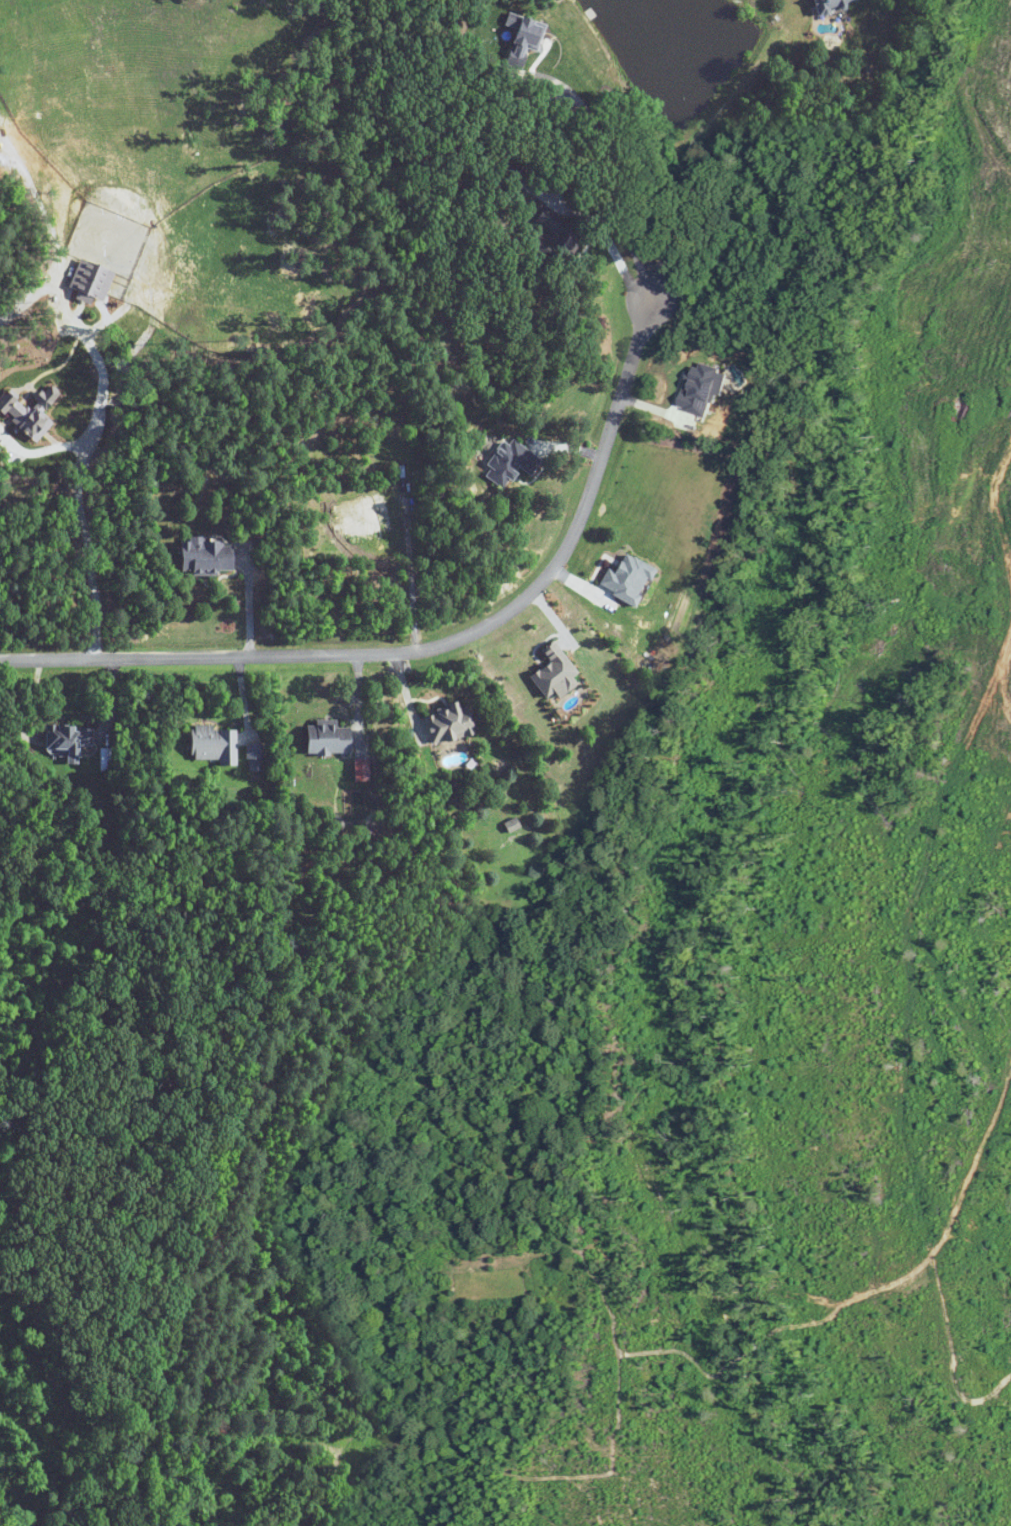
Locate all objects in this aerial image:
building: (831, 5)
building: (524, 36)
building: (510, 175)
road: (626, 182)
building: (555, 238)
road: (607, 242)
building: (511, 463)
road: (76, 483)
building: (205, 557)
building: (627, 579)
road: (247, 603)
road: (437, 644)
building: (554, 672)
building: (448, 723)
building: (327, 738)
building: (67, 739)
building: (213, 745)

